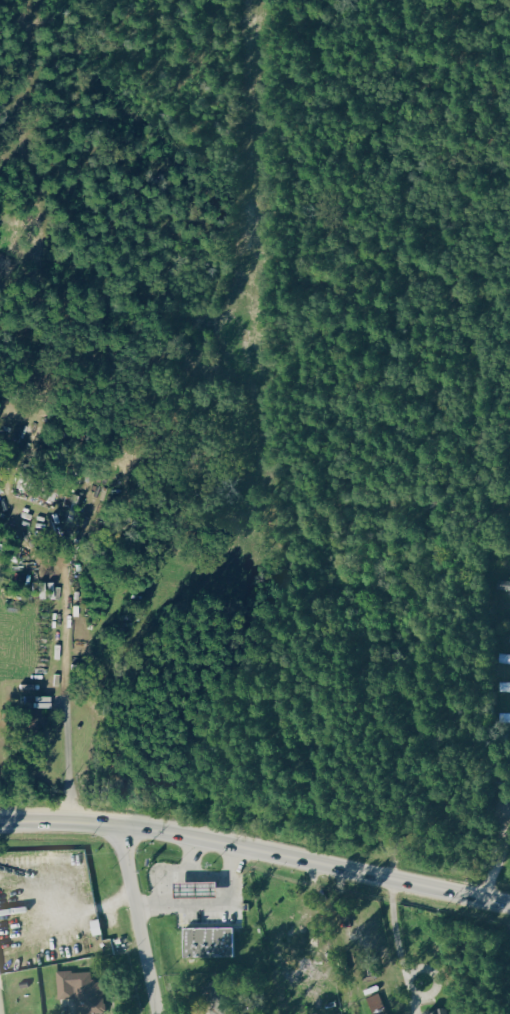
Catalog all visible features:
building: (502, 583)
building: (508, 660)
building: (505, 686)
road: (67, 704)
building: (504, 725)
road: (256, 852)
road: (497, 865)
road: (172, 873)
road: (208, 876)
building: (202, 889)
road: (208, 907)
road: (341, 910)
road: (136, 921)
building: (214, 941)
road: (404, 972)
building: (86, 991)

